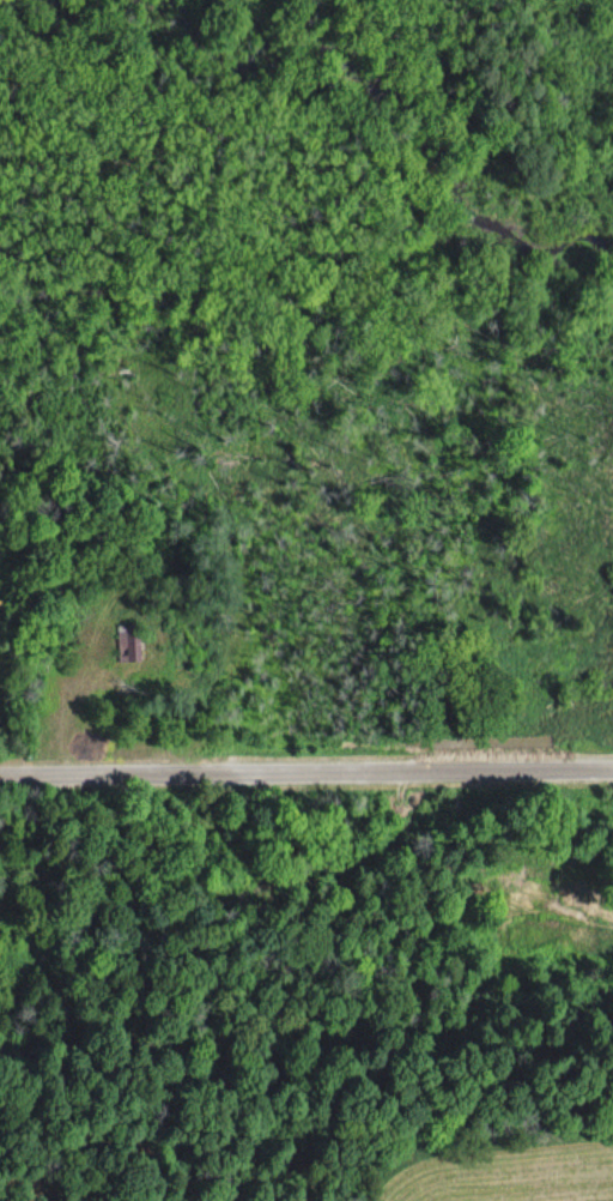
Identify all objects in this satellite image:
building: (129, 642)
road: (306, 773)

